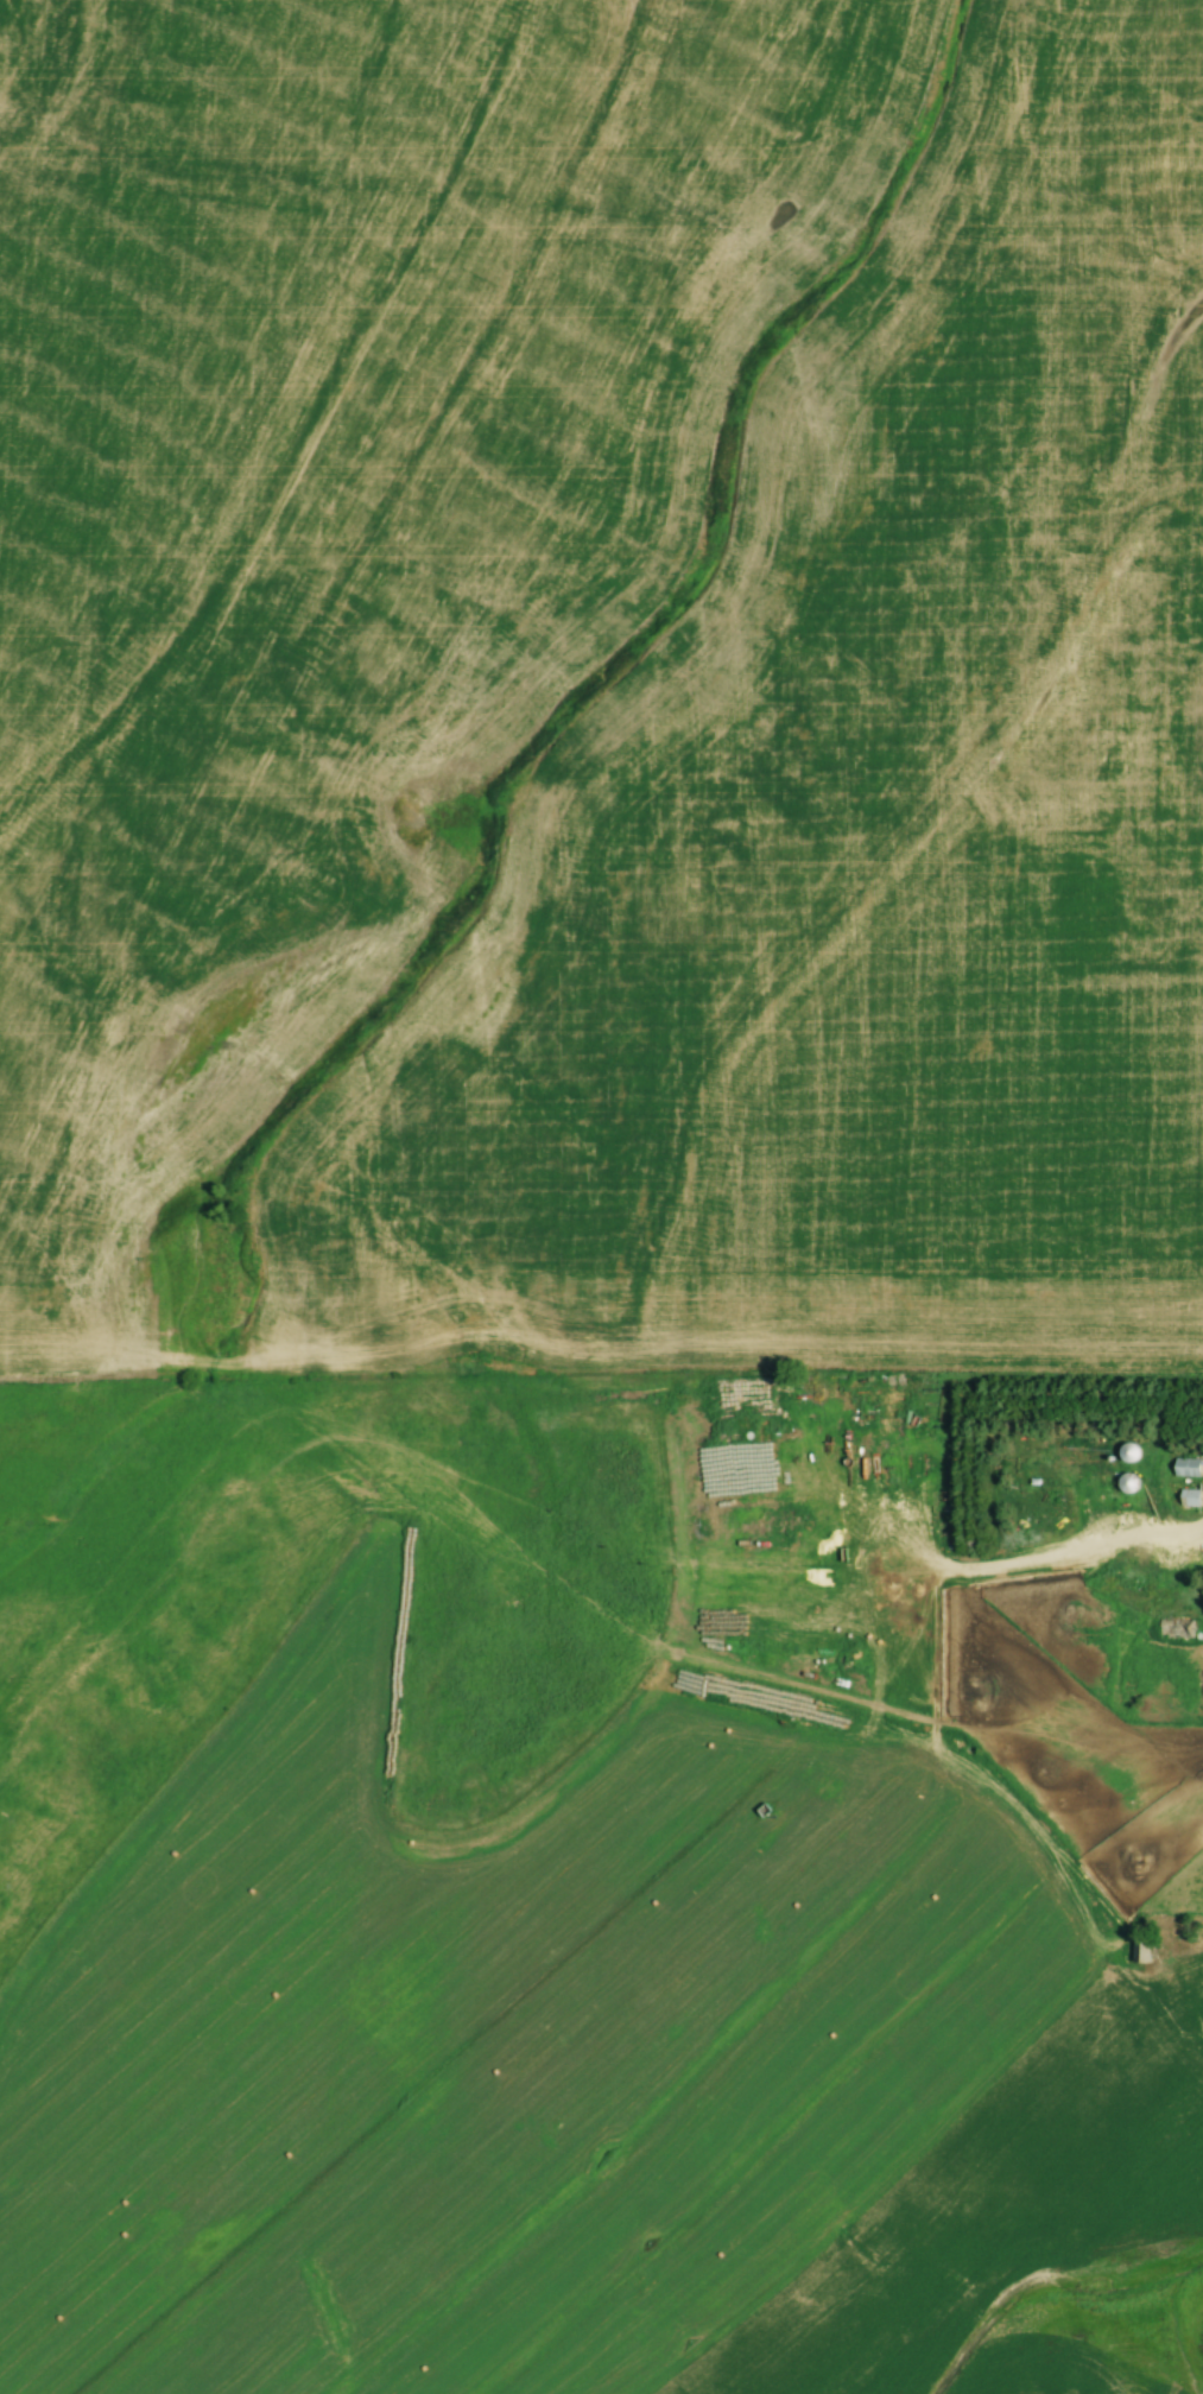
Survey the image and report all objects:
building: (1128, 1452)
building: (1186, 1467)
building: (1126, 1484)
building: (1189, 1497)
building: (1176, 1629)
building: (1140, 1950)

